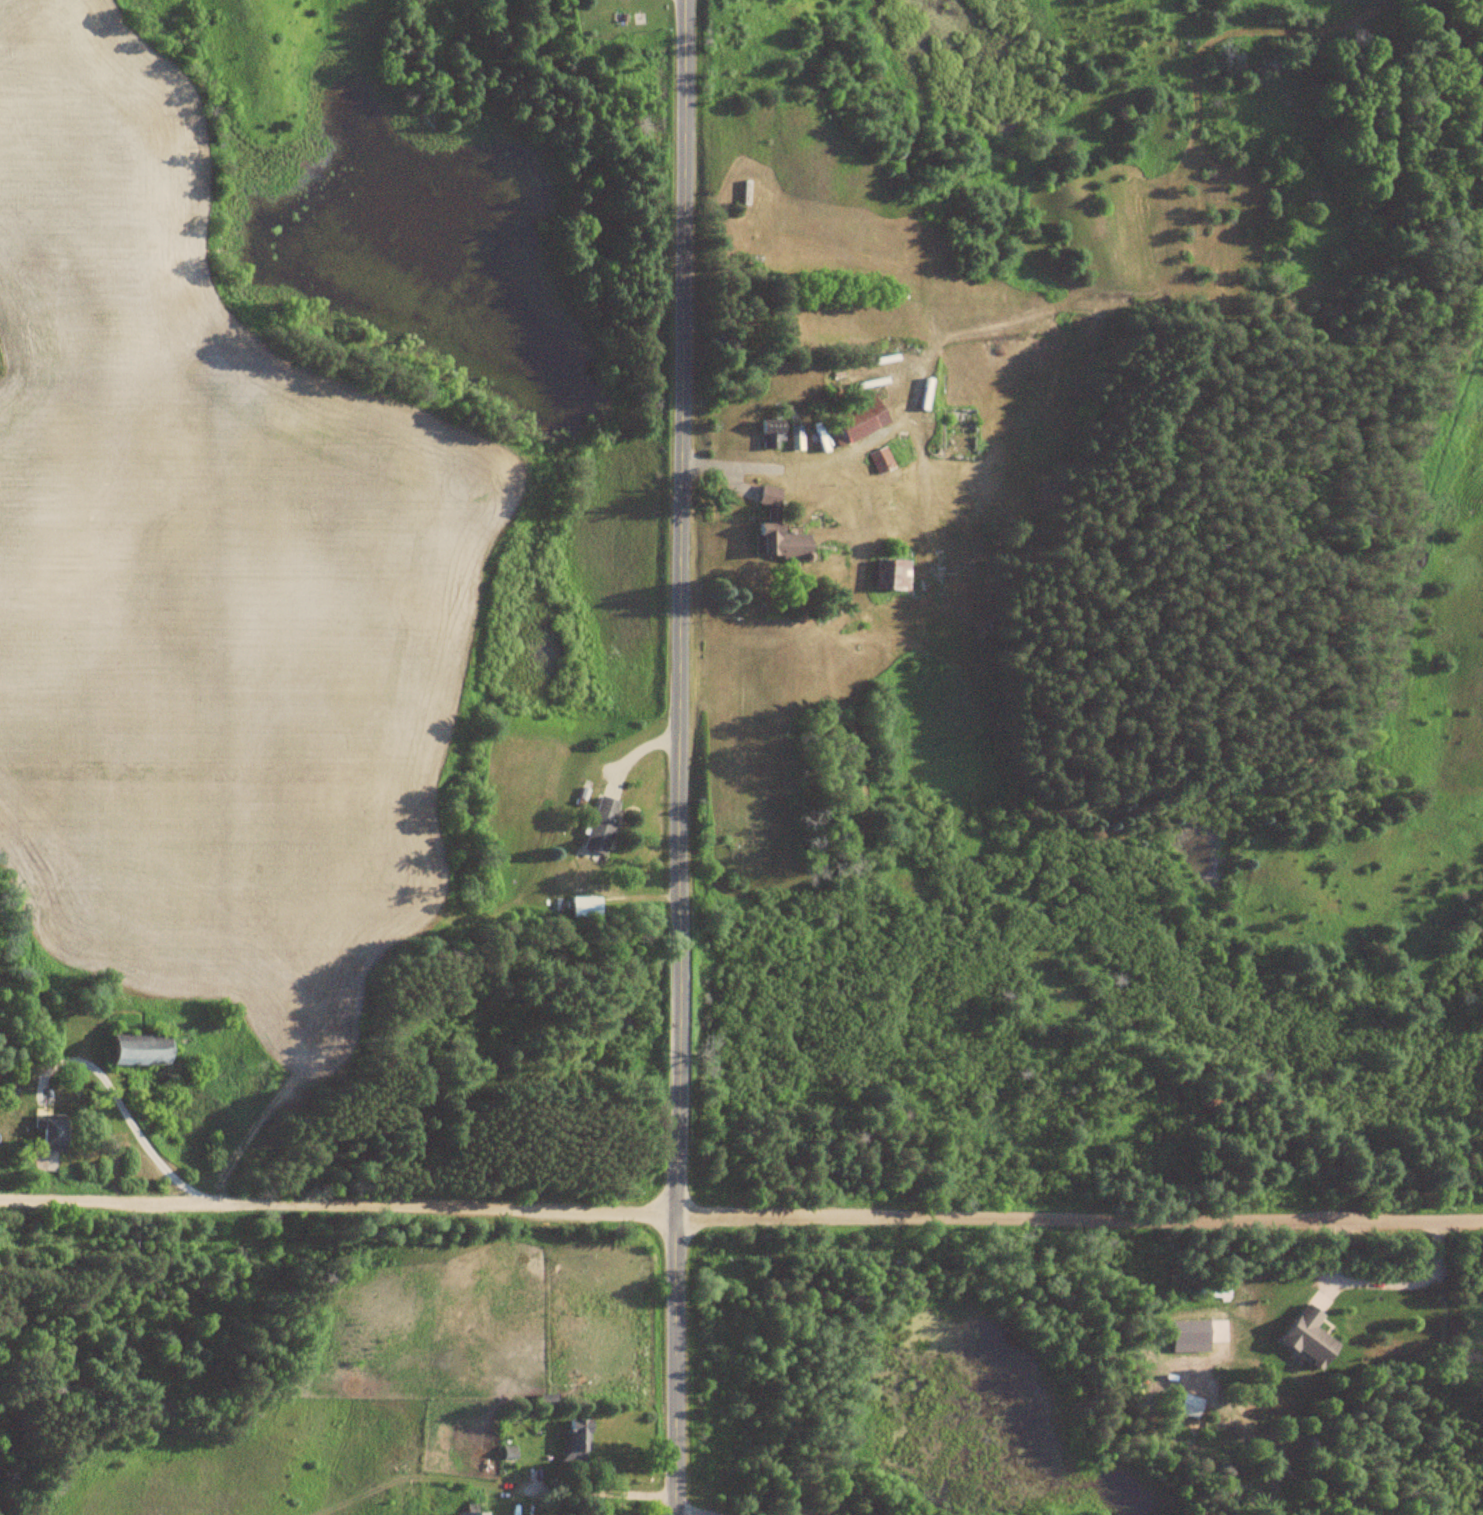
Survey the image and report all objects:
building: (928, 395)
building: (860, 418)
building: (774, 434)
building: (882, 460)
building: (780, 529)
building: (895, 576)
road: (678, 757)
building: (603, 825)
building: (587, 907)
building: (142, 1048)
building: (53, 1130)
road: (741, 1217)
building: (1311, 1338)
building: (548, 1400)
building: (576, 1442)
building: (474, 1513)

